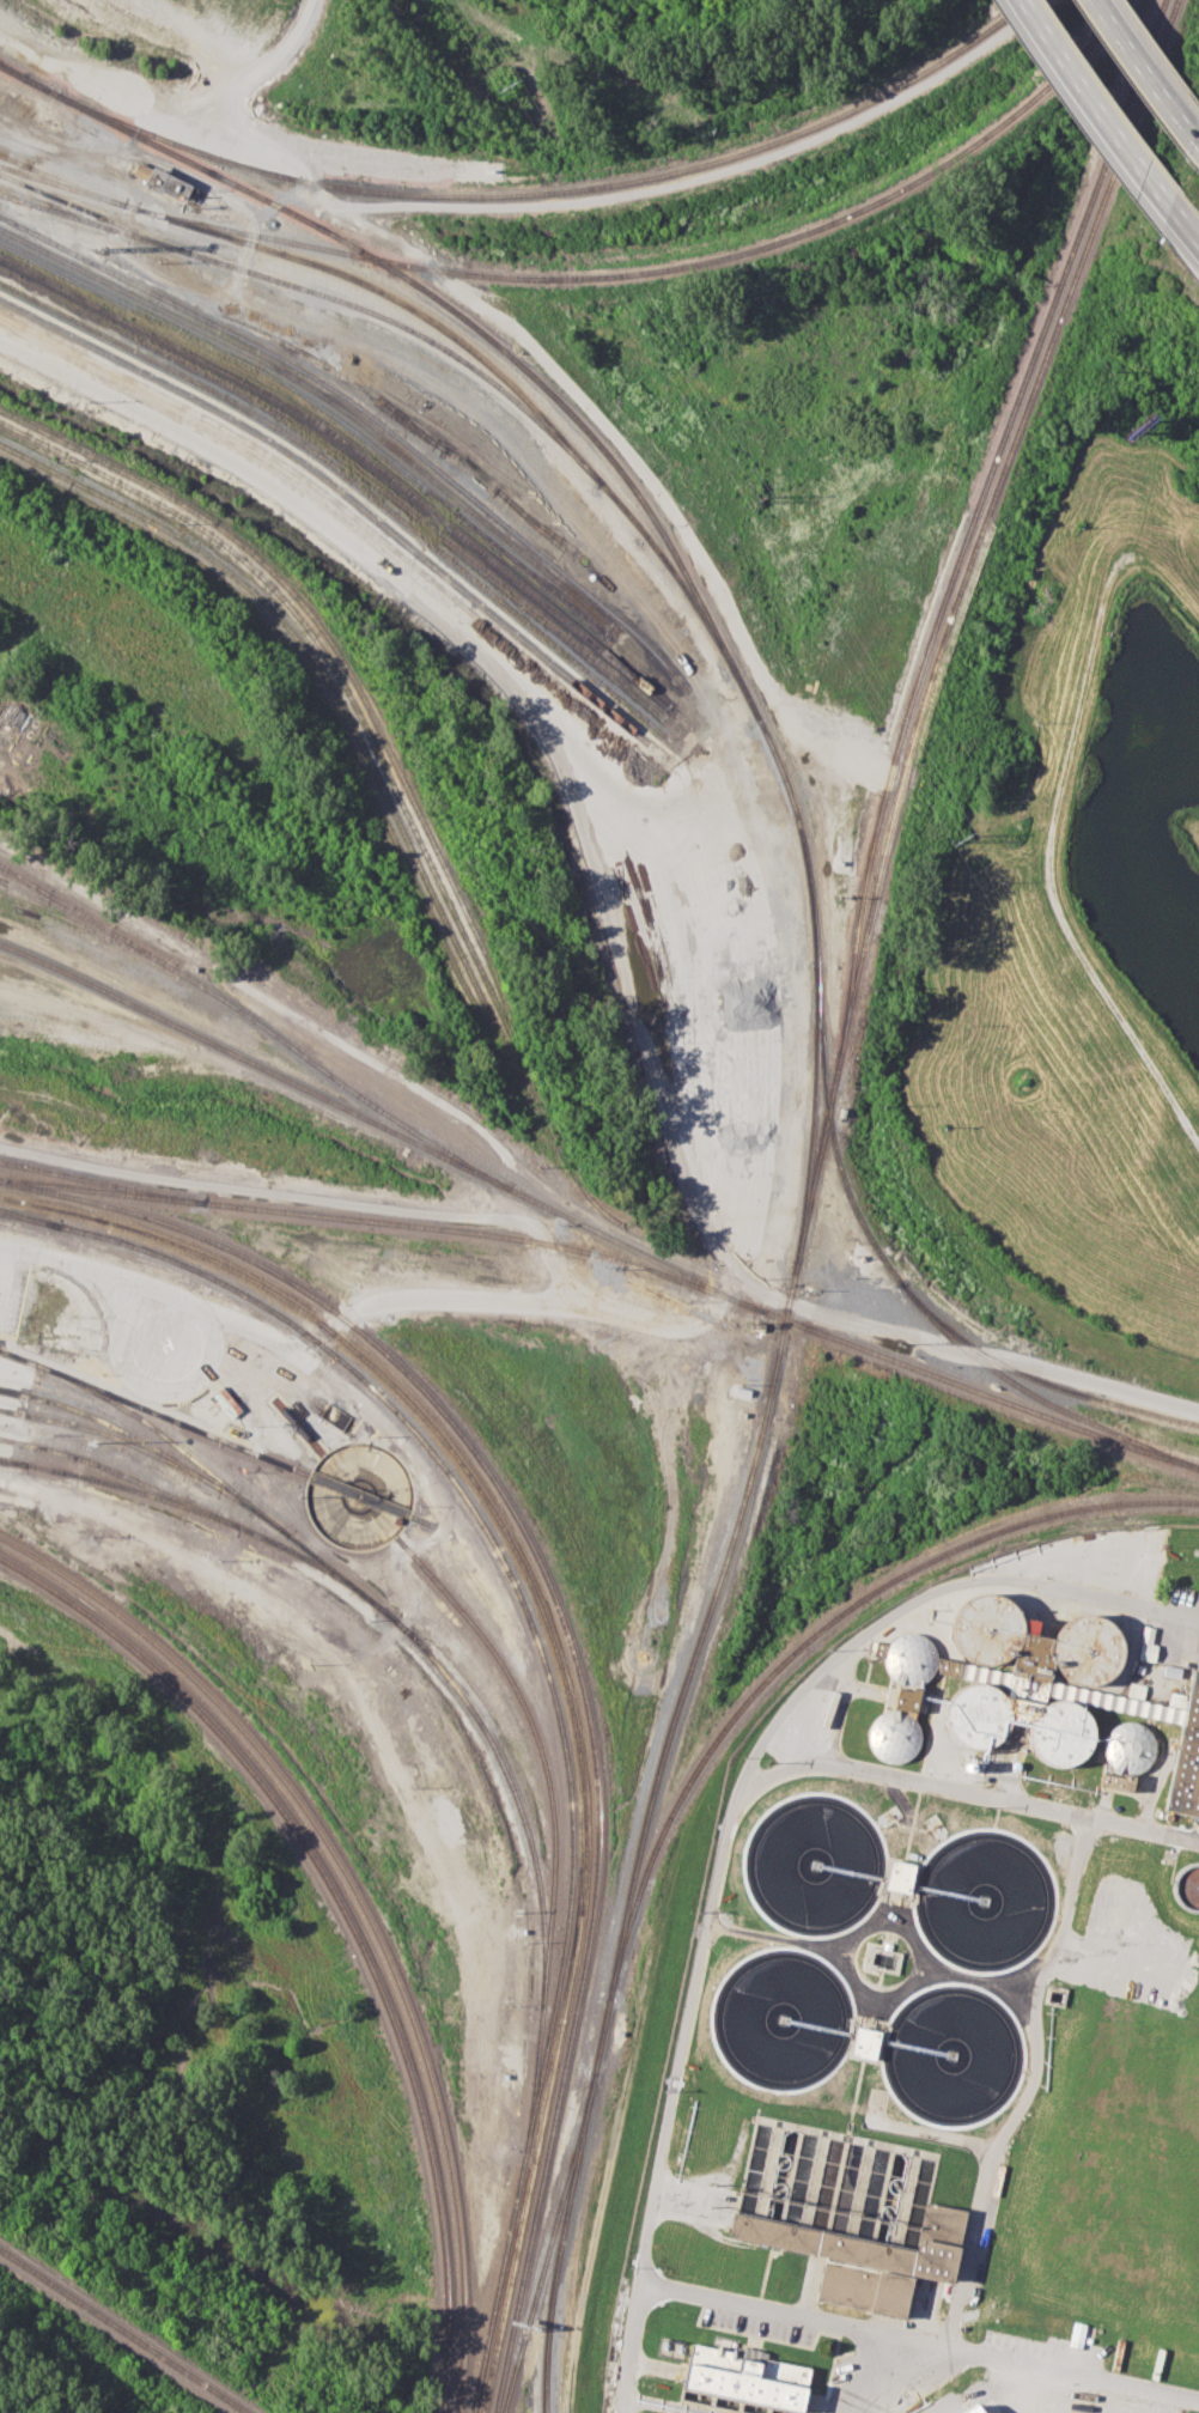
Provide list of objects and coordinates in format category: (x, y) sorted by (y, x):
railway: (1169, 10)
road: (1152, 68)
railway: (16, 71)
railway: (16, 73)
power tower: (509, 84)
road: (1101, 108)
railway: (13, 159)
railway: (24, 172)
railway: (57, 177)
building: (164, 181)
railway: (561, 189)
railway: (91, 220)
road: (1187, 230)
railway: (671, 267)
railway: (315, 291)
railway: (452, 334)
railway: (328, 397)
railway: (562, 403)
railway: (323, 407)
railway: (375, 417)
railway: (1005, 430)
railway: (1017, 431)
railway: (355, 448)
railway: (355, 462)
railway: (353, 481)
railway: (352, 498)
power tower: (755, 499)
railway: (343, 660)
railway: (329, 681)
railway: (360, 713)
railway: (370, 785)
power tower: (961, 837)
railway: (19, 877)
road: (604, 913)
railway: (78, 923)
railway: (853, 956)
railway: (860, 958)
road: (261, 995)
railway: (255, 1020)
railway: (812, 1113)
railway: (378, 1124)
railway: (830, 1126)
railway: (820, 1155)
railway: (101, 1181)
road: (311, 1197)
railway: (31, 1217)
railway: (31, 1220)
railway: (383, 1220)
railway: (862, 1272)
parking lot: (12, 1295)
road: (430, 1296)
road: (670, 1324)
helipad: (165, 1345)
railway: (1033, 1376)
road: (335, 1382)
railway: (976, 1388)
railway: (1031, 1393)
railway: (156, 1411)
railway: (299, 1427)
railway: (106, 1433)
railway: (145, 1441)
railway: (7, 1460)
railway: (213, 1473)
railway: (111, 1483)
railway: (424, 1521)
railway: (371, 1549)
road: (917, 1597)
railway: (571, 1645)
railway: (799, 1645)
railway: (559, 1658)
railway: (689, 1667)
railway: (440, 1669)
building: (900, 1695)
railway: (555, 1701)
railway: (541, 1751)
building: (1120, 1756)
building: (1187, 1756)
road: (1142, 1831)
building: (899, 1876)
railway: (363, 1903)
railway: (348, 1919)
road: (882, 1919)
railway: (608, 1925)
road: (860, 1983)
wastewater plant: (943, 2014)
building: (864, 2042)
road: (1030, 2081)
road: (659, 2139)
railway: (561, 2243)
railway: (548, 2244)
building: (866, 2259)
railway: (523, 2308)
railway: (122, 2332)
building: (1076, 2334)
road: (627, 2346)
road: (859, 2371)
building: (745, 2375)
road: (677, 2401)

